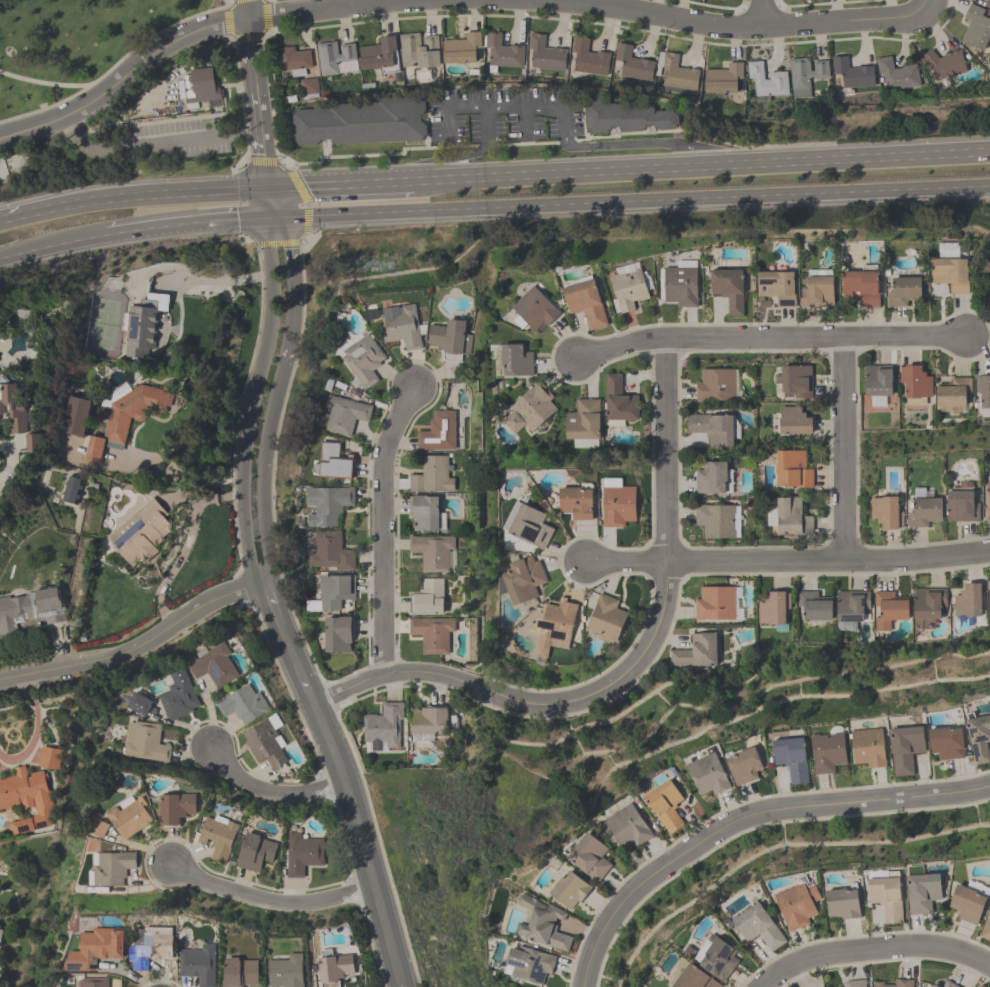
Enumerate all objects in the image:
building: (720, 0)
building: (987, 3)
road: (921, 4)
road: (228, 10)
road: (760, 14)
road: (728, 26)
building: (976, 26)
road: (193, 32)
park: (73, 43)
building: (461, 47)
building: (418, 50)
building: (501, 52)
building: (377, 53)
building: (545, 53)
building: (588, 57)
building: (335, 58)
building: (293, 60)
building: (632, 63)
building: (942, 64)
building: (852, 72)
building: (677, 73)
building: (896, 74)
building: (804, 75)
building: (723, 78)
building: (766, 80)
road: (53, 85)
building: (200, 85)
building: (308, 87)
road: (256, 94)
road: (560, 109)
building: (623, 115)
building: (360, 121)
road: (131, 146)
road: (702, 165)
road: (342, 184)
traffic signals: (270, 188)
road: (150, 196)
road: (633, 200)
road: (16, 219)
traffic signals: (278, 221)
road: (191, 227)
road: (51, 246)
building: (950, 272)
road: (282, 275)
building: (989, 279)
building: (628, 285)
building: (678, 285)
building: (777, 285)
building: (860, 285)
building: (728, 288)
building: (817, 288)
building: (902, 290)
building: (585, 302)
building: (532, 309)
building: (143, 324)
building: (400, 325)
building: (450, 338)
road: (772, 339)
building: (363, 359)
building: (515, 360)
building: (793, 381)
building: (877, 383)
building: (715, 384)
building: (914, 384)
building: (983, 389)
building: (952, 392)
building: (618, 402)
building: (11, 405)
building: (530, 408)
building: (345, 414)
building: (75, 415)
building: (124, 417)
building: (793, 420)
building: (583, 423)
building: (713, 427)
building: (437, 431)
road: (843, 450)
building: (335, 460)
building: (792, 469)
road: (251, 471)
road: (192, 474)
building: (431, 475)
building: (710, 477)
road: (664, 486)
building: (71, 489)
building: (987, 498)
building: (576, 502)
building: (617, 502)
building: (328, 504)
building: (961, 506)
building: (923, 509)
building: (423, 511)
building: (886, 511)
building: (788, 516)
building: (715, 520)
road: (383, 524)
building: (528, 524)
building: (140, 533)
building: (331, 551)
building: (431, 551)
road: (787, 562)
building: (523, 578)
building: (989, 588)
building: (335, 590)
building: (427, 597)
building: (989, 599)
building: (968, 600)
road: (272, 603)
building: (714, 603)
building: (813, 605)
building: (927, 606)
building: (850, 607)
building: (31, 608)
building: (773, 609)
building: (888, 609)
building: (605, 619)
building: (555, 623)
building: (338, 633)
building: (432, 633)
road: (288, 642)
road: (138, 649)
building: (542, 651)
building: (695, 653)
building: (215, 665)
road: (305, 683)
road: (495, 691)
building: (179, 695)
building: (140, 703)
building: (243, 704)
building: (428, 720)
building: (383, 726)
building: (979, 737)
building: (144, 741)
building: (265, 741)
building: (946, 742)
building: (868, 746)
building: (905, 747)
building: (828, 750)
building: (791, 758)
building: (744, 765)
building: (707, 774)
road: (273, 792)
building: (26, 799)
building: (665, 804)
building: (175, 807)
building: (128, 816)
road: (747, 817)
building: (627, 826)
building: (97, 827)
building: (217, 837)
road: (364, 844)
building: (254, 852)
building: (302, 853)
building: (589, 856)
building: (112, 868)
building: (569, 889)
building: (922, 892)
building: (886, 893)
road: (271, 901)
building: (797, 902)
building: (843, 902)
building: (967, 903)
building: (542, 924)
building: (757, 925)
building: (985, 927)
building: (1, 935)
building: (147, 948)
building: (94, 949)
road: (869, 953)
building: (716, 957)
building: (198, 964)
building: (528, 964)
building: (333, 967)
building: (286, 971)
building: (239, 972)
building: (689, 976)
building: (94, 982)
building: (903, 982)
building: (854, 983)
building: (948, 984)
building: (935, 986)
building: (981, 986)

